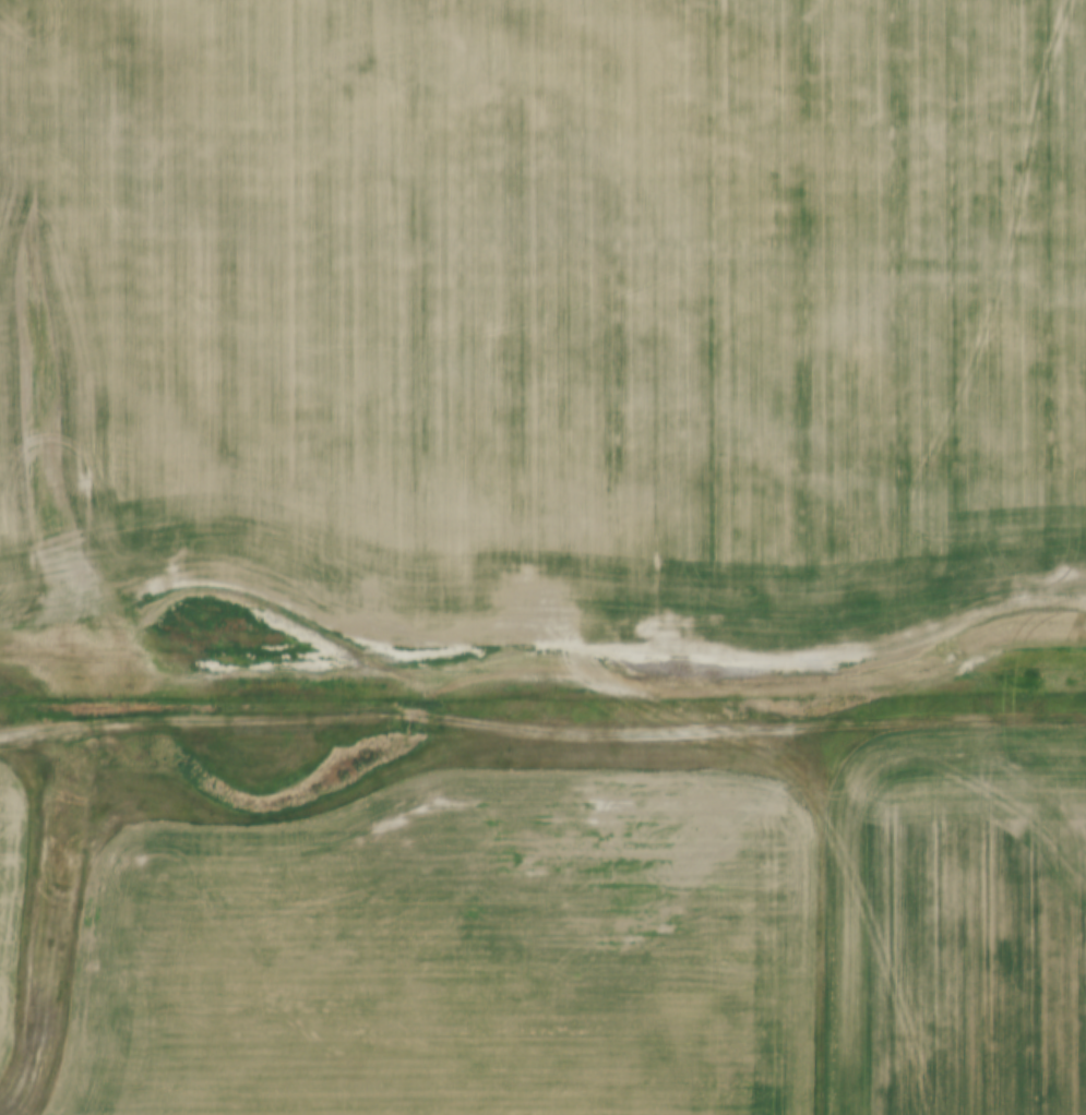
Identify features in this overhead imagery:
road: (542, 726)

